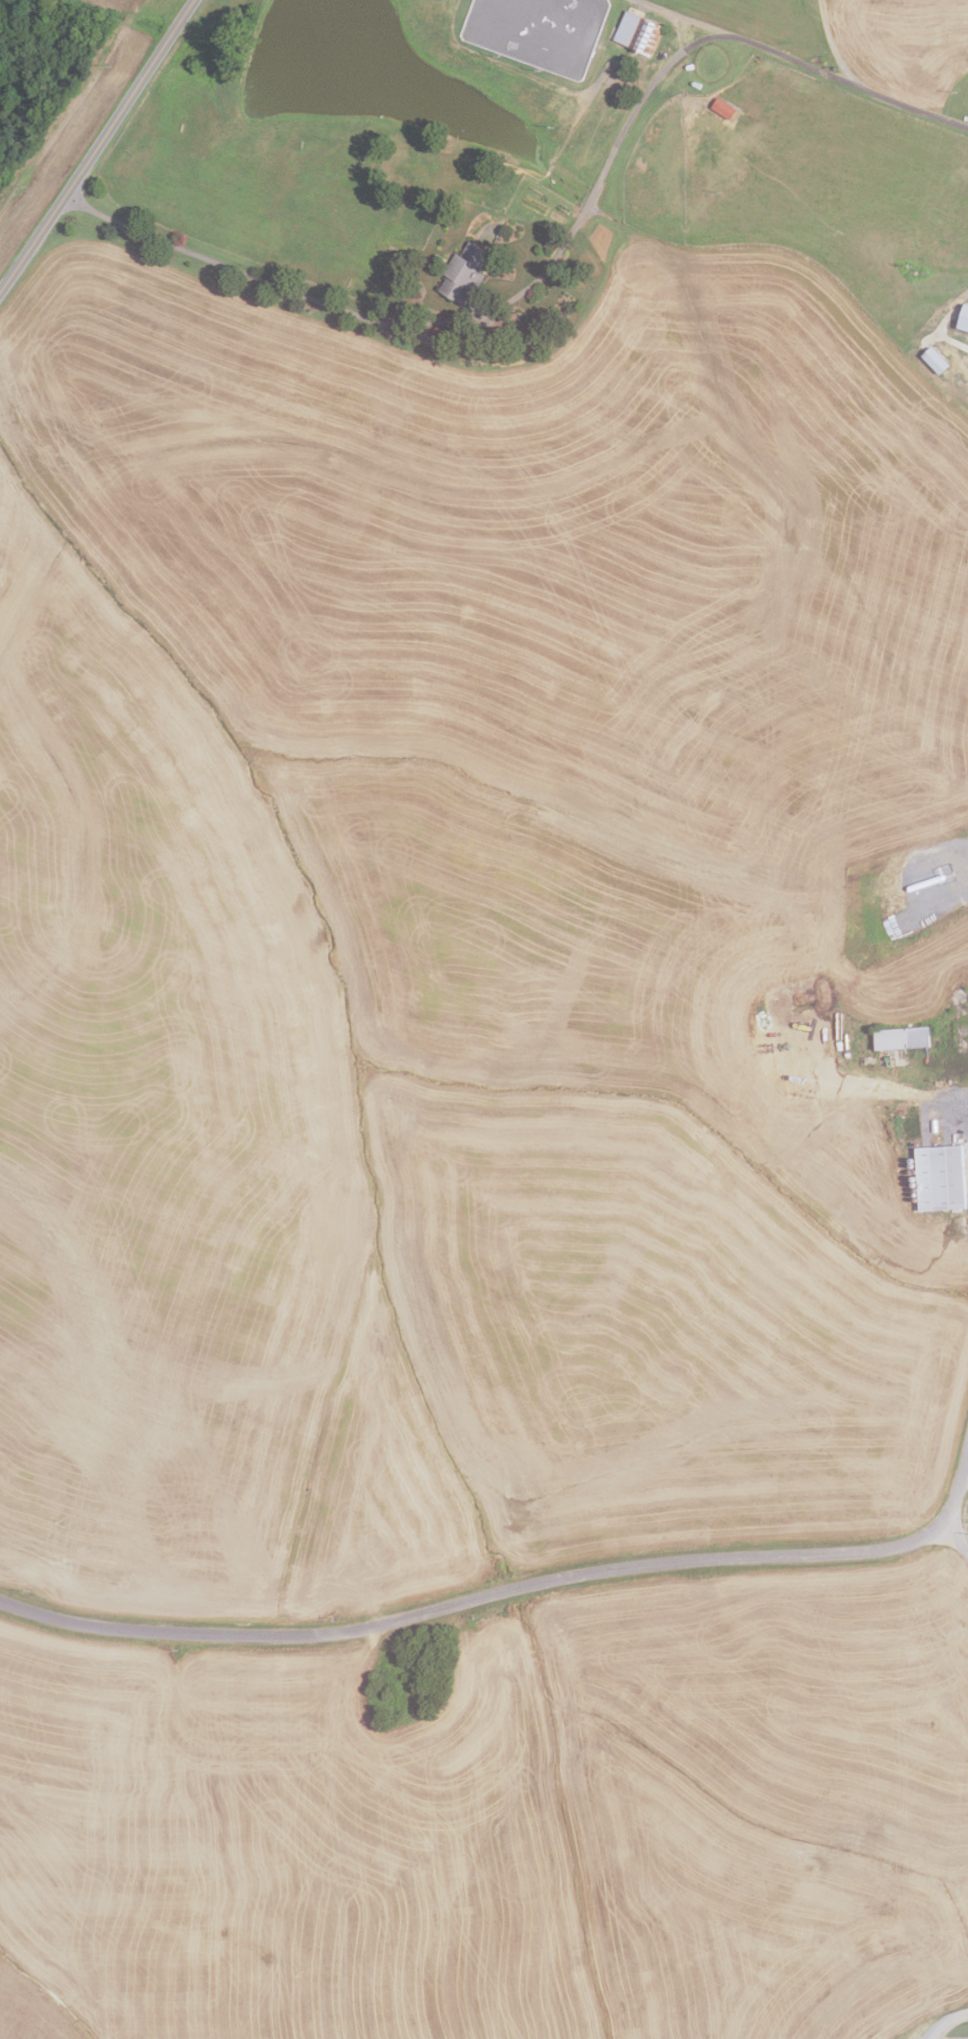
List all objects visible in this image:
road: (690, 16)
building: (637, 32)
road: (869, 89)
building: (722, 108)
road: (97, 146)
building: (462, 273)
road: (522, 290)
building: (963, 318)
building: (933, 360)
crop: (461, 932)
building: (900, 1037)
building: (939, 1177)
road: (966, 1460)
road: (953, 1538)
road: (510, 1589)
crop: (510, 1822)
crop: (31, 2004)
road: (947, 2022)
building: (958, 2038)

